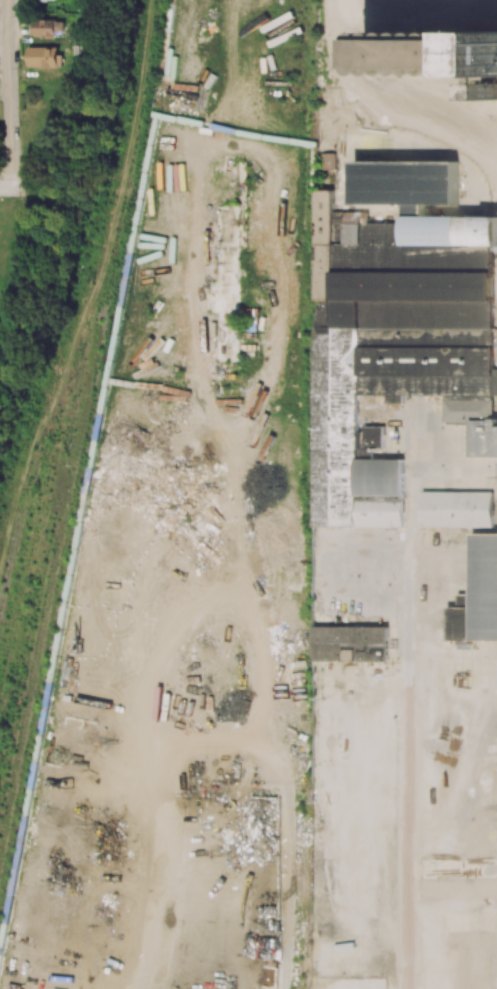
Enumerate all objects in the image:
building: (43, 0)
building: (47, 27)
building: (433, 53)
building: (46, 57)
road: (4, 72)
road: (9, 93)
building: (328, 161)
road: (13, 188)
building: (228, 322)
building: (391, 332)
building: (483, 437)
building: (456, 508)
road: (408, 549)
railway: (7, 557)
building: (477, 595)
building: (349, 643)
road: (409, 838)
railway: (307, 844)

